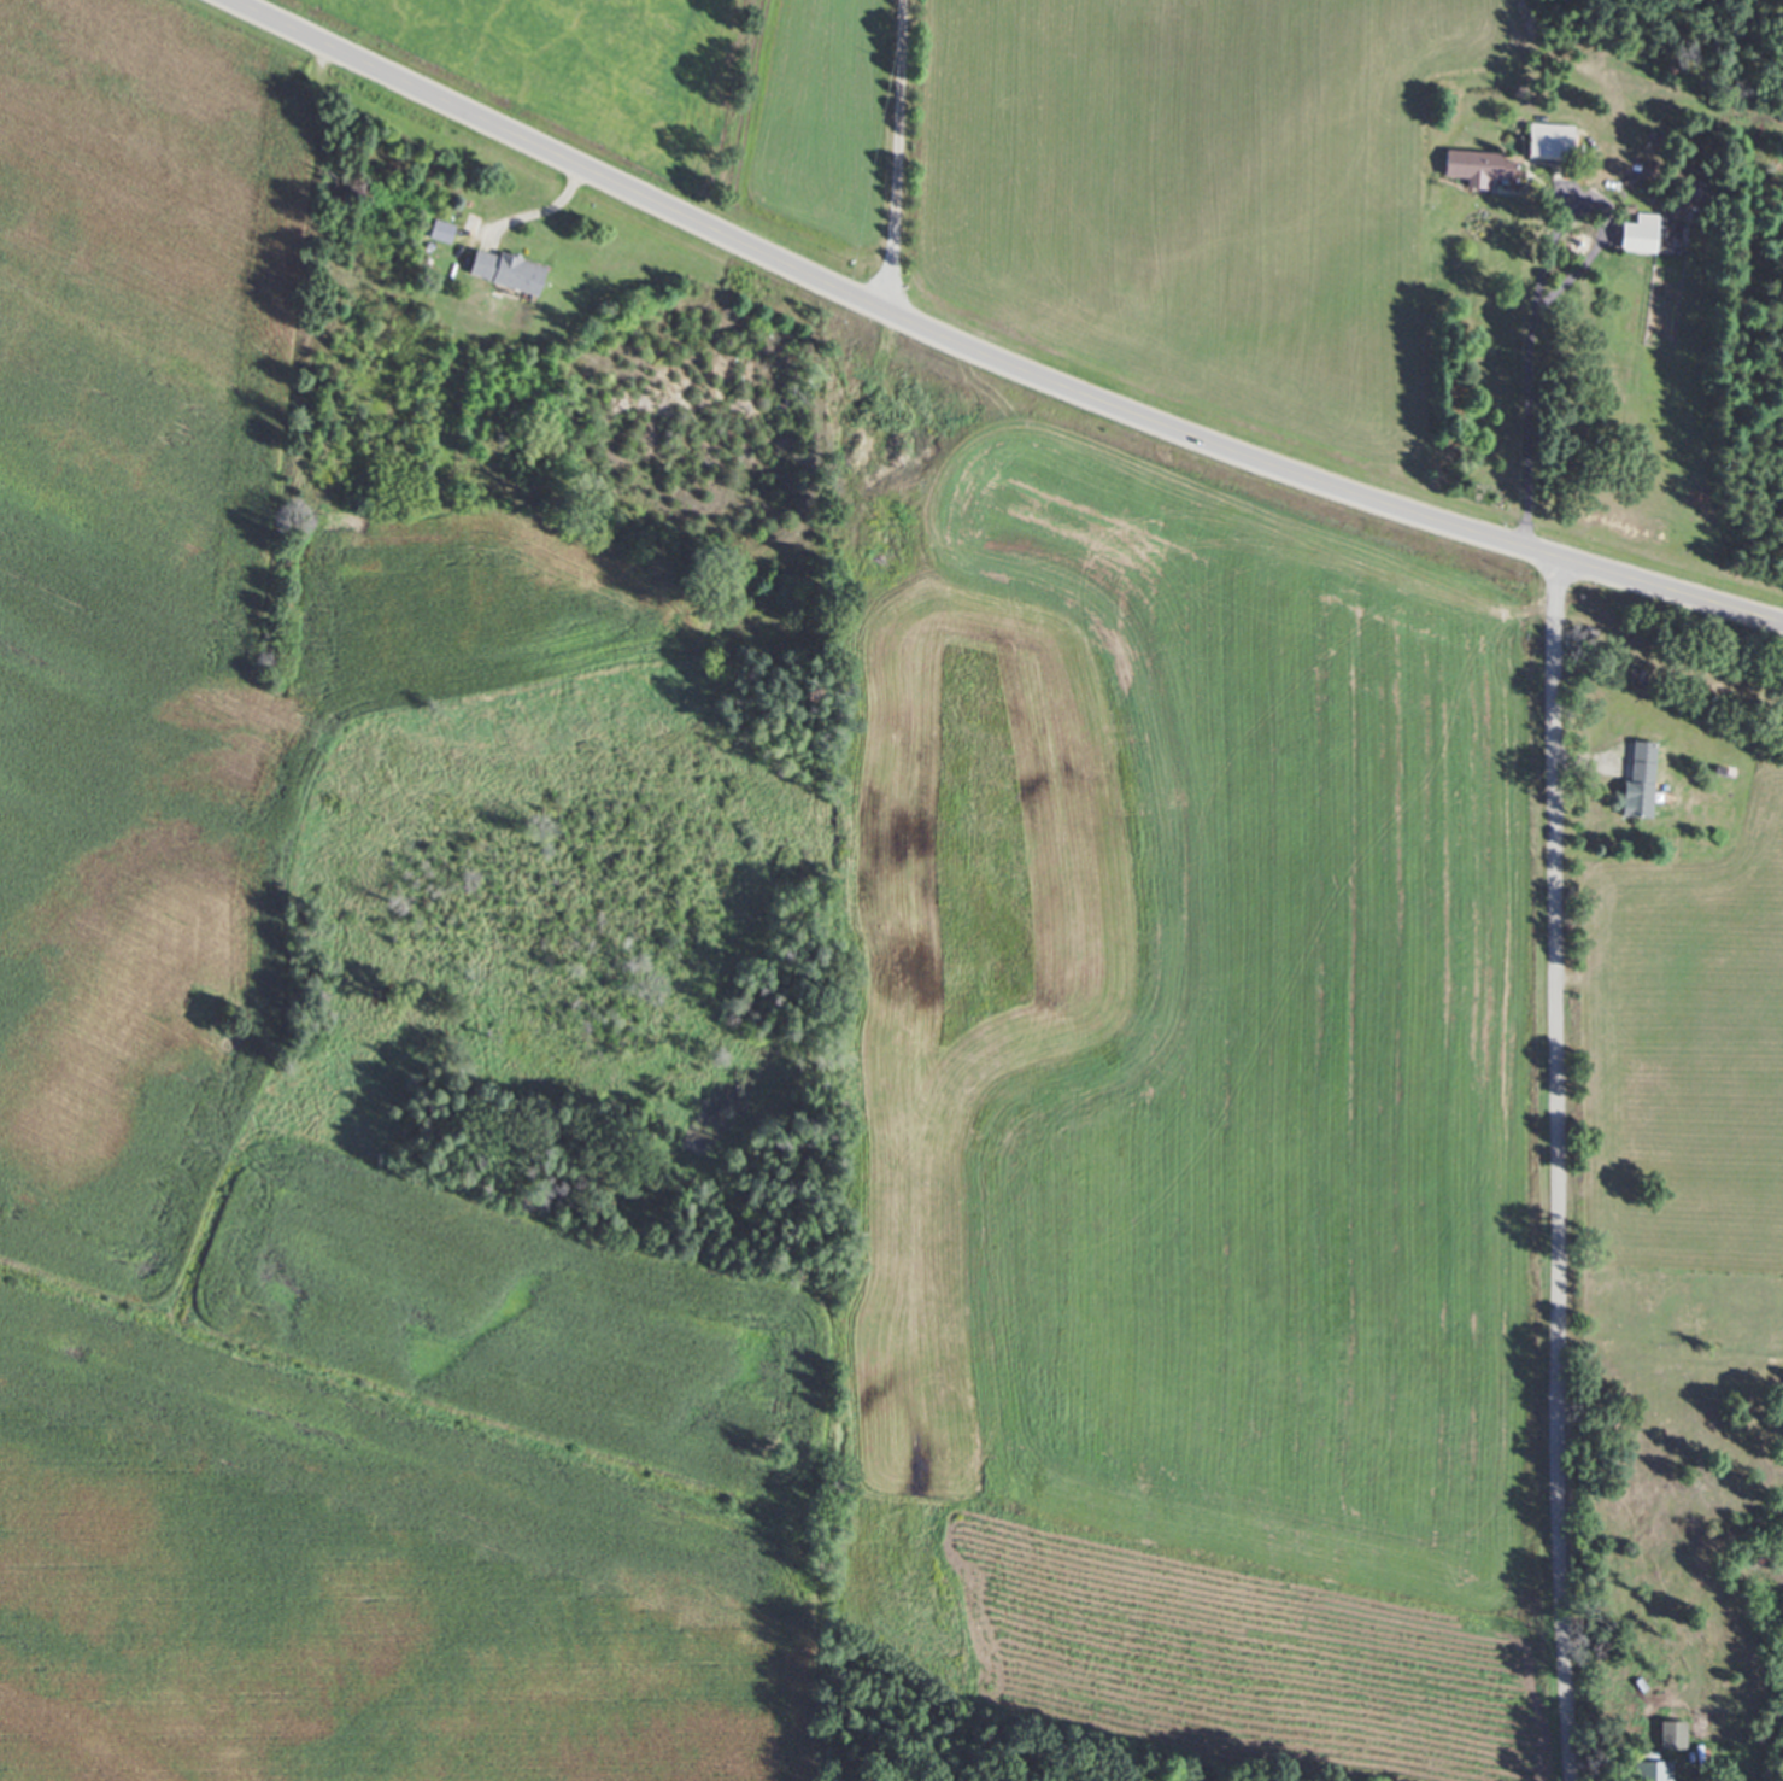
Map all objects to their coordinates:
building: (1549, 146)
road: (904, 156)
building: (1489, 172)
building: (1643, 239)
building: (508, 271)
road: (992, 351)
road: (1530, 373)
building: (1641, 779)
road: (1559, 1172)
building: (1665, 1748)
building: (1642, 1777)

